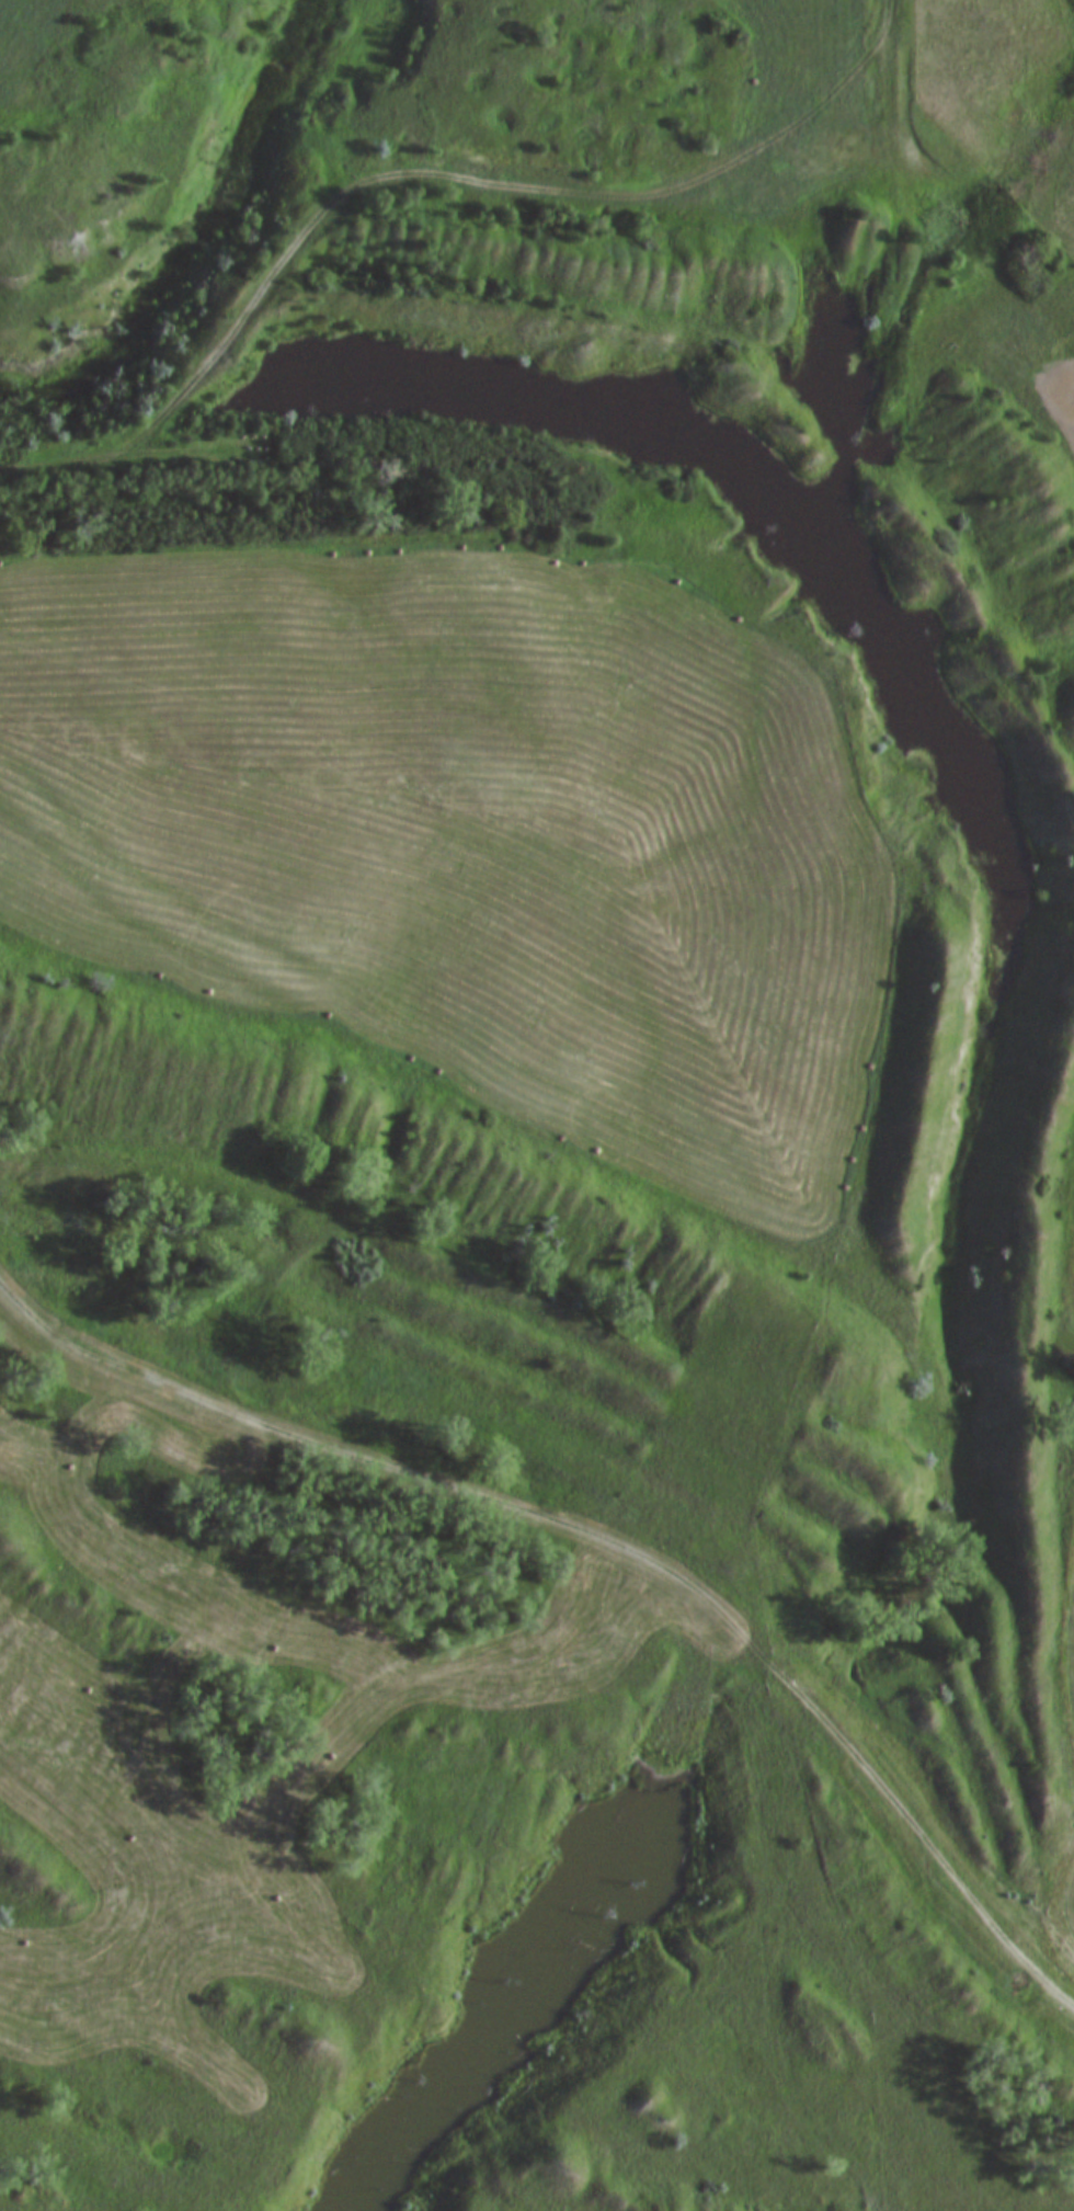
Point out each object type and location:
road: (882, 18)
road: (405, 171)
road: (604, 1541)
quarry: (435, 1674)

